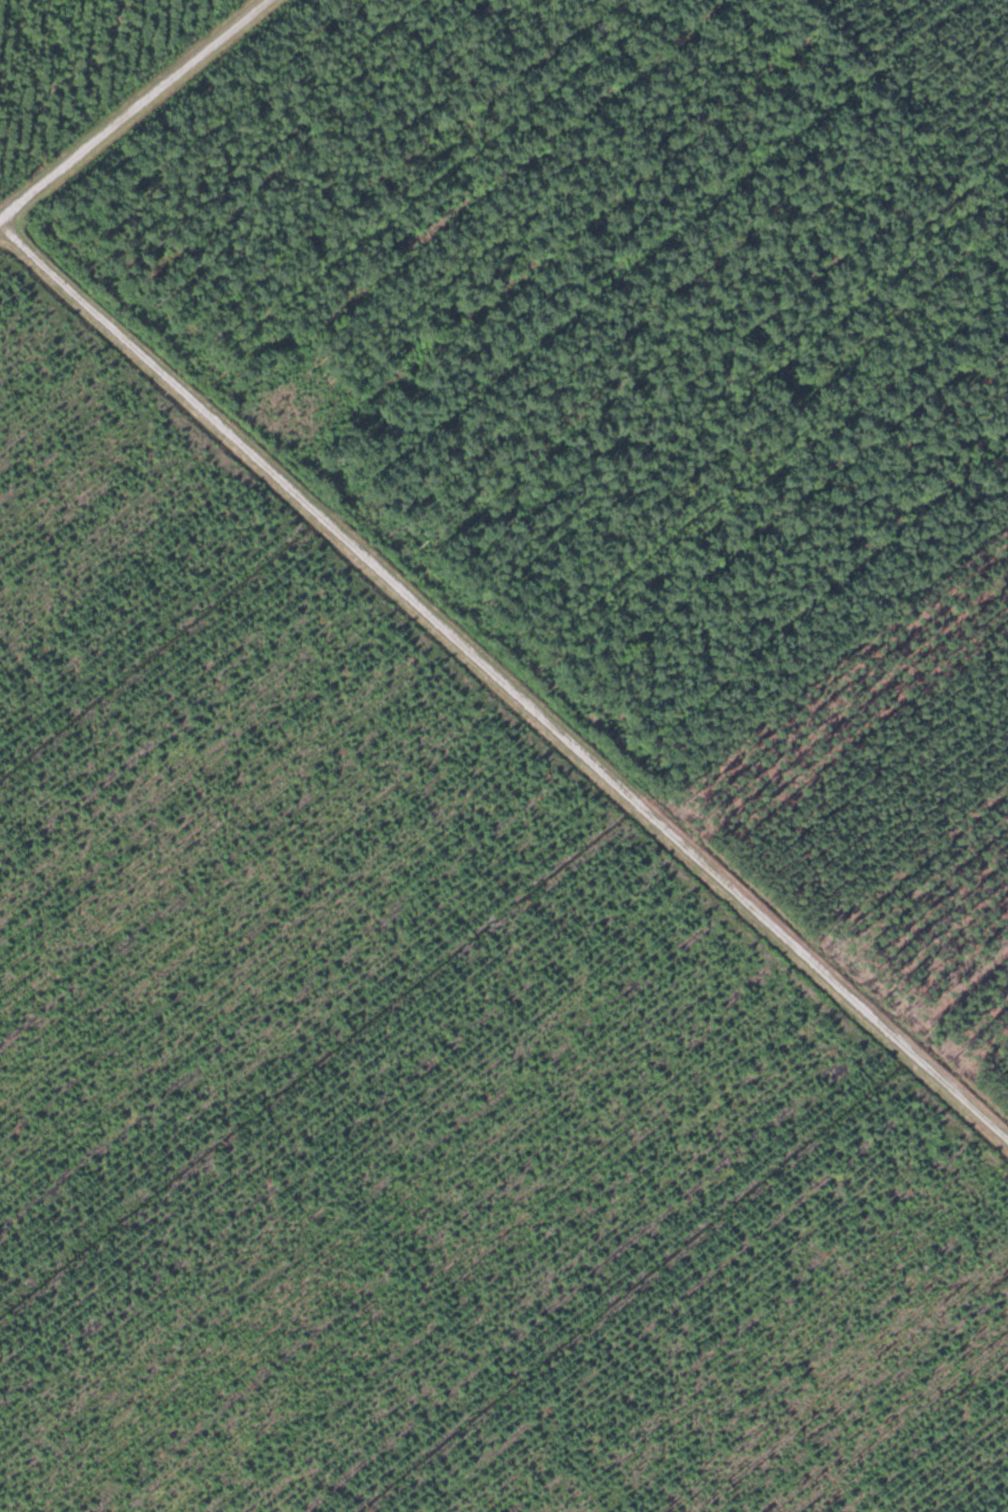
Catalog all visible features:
road: (131, 107)
road: (502, 682)

